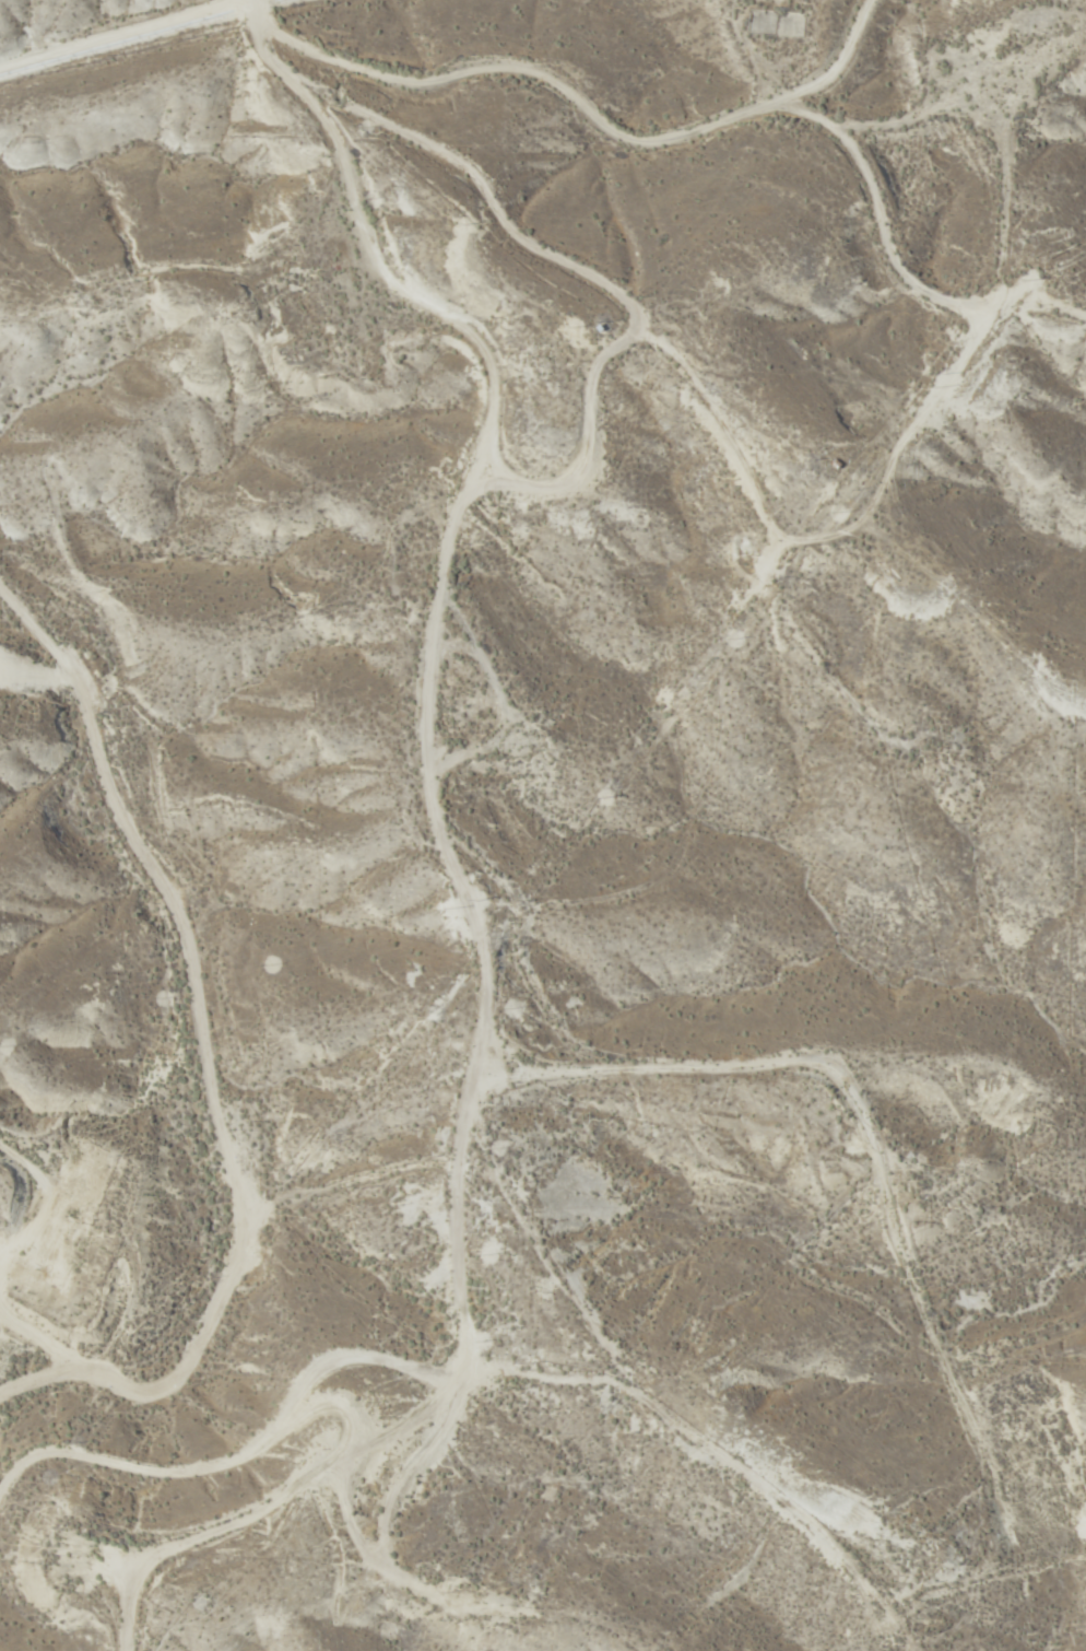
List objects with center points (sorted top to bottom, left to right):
road: (712, 120)
road: (1079, 209)
road: (439, 567)
road: (55, 655)
road: (219, 1109)
road: (96, 1290)
road: (457, 1290)
road: (458, 1416)
road: (151, 1494)
road: (1034, 1617)

